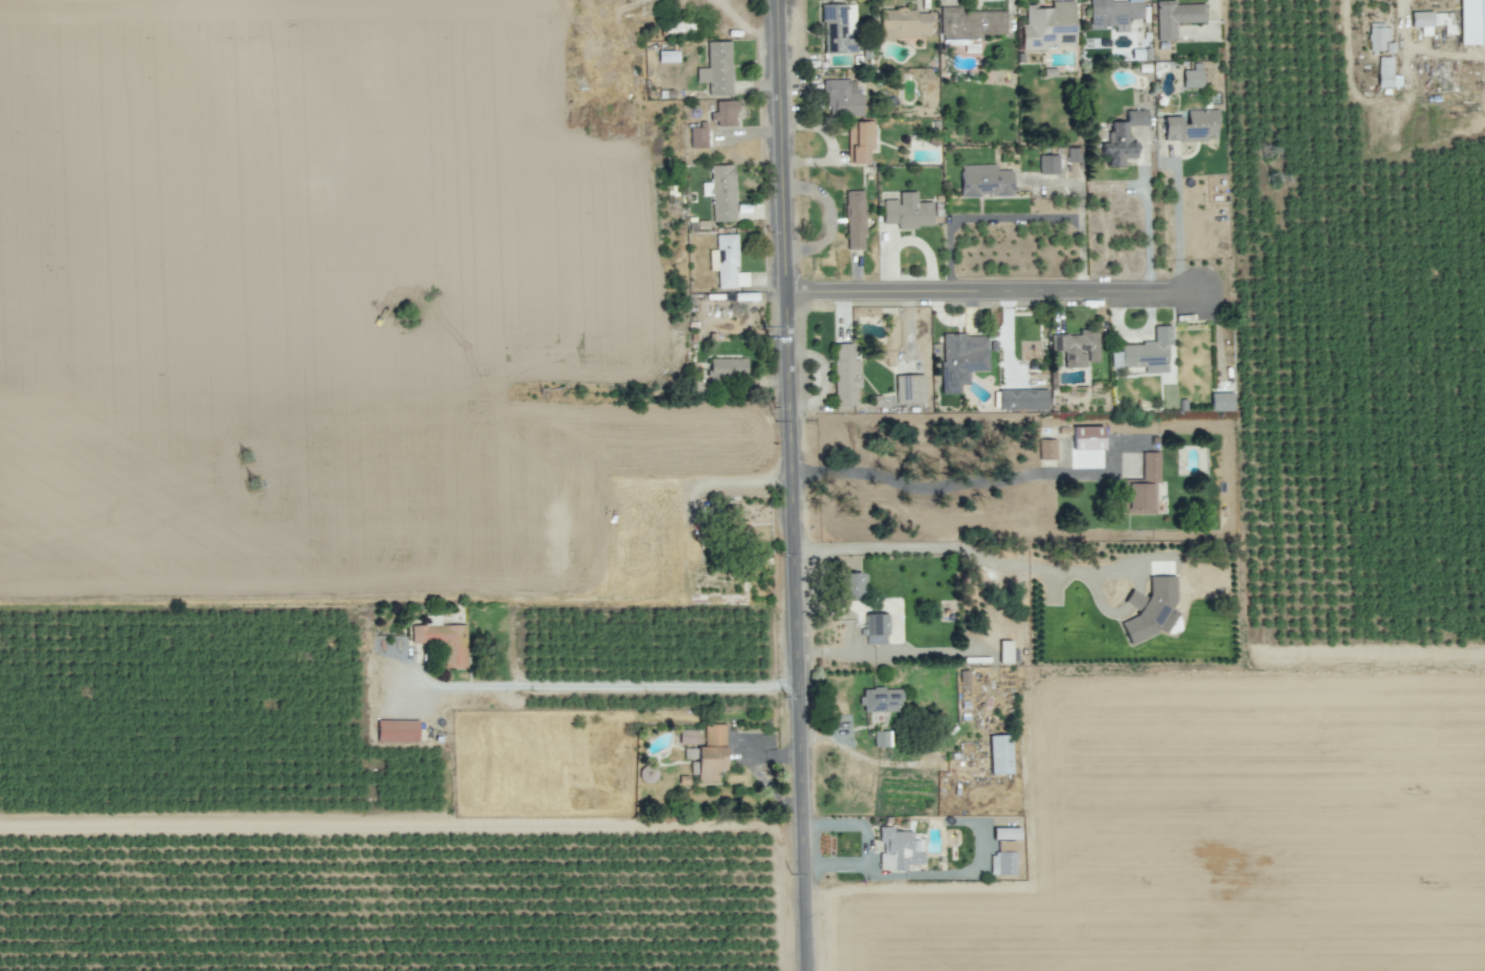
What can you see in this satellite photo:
building: (1113, 14)
building: (1175, 17)
building: (1433, 20)
building: (1472, 22)
building: (904, 24)
building: (969, 24)
building: (1048, 26)
building: (839, 28)
building: (1377, 35)
building: (1388, 47)
building: (667, 56)
building: (716, 68)
building: (1386, 73)
building: (1193, 76)
building: (842, 97)
building: (723, 113)
building: (1191, 125)
building: (697, 137)
building: (1122, 138)
building: (859, 141)
power tower: (1268, 156)
building: (1048, 164)
building: (984, 180)
power tower: (1273, 183)
building: (721, 192)
building: (907, 211)
road: (1015, 219)
building: (854, 220)
road: (1145, 226)
road: (1177, 227)
building: (726, 262)
road: (990, 291)
power tower: (732, 313)
power tower: (764, 336)
building: (1077, 347)
building: (1149, 355)
building: (961, 359)
building: (726, 367)
building: (845, 374)
building: (909, 389)
building: (1020, 399)
building: (1221, 401)
building: (1087, 438)
building: (1047, 449)
power tower: (247, 460)
road: (954, 484)
building: (1144, 484)
railway: (227, 485)
road: (794, 485)
power tower: (252, 489)
road: (959, 549)
building: (852, 584)
building: (1151, 609)
building: (877, 628)
road: (894, 631)
building: (443, 641)
road: (595, 681)
building: (880, 699)
building: (396, 730)
building: (688, 737)
building: (881, 738)
building: (708, 754)
building: (999, 754)
road: (488, 807)
building: (1005, 833)
building: (898, 849)
building: (1003, 859)

